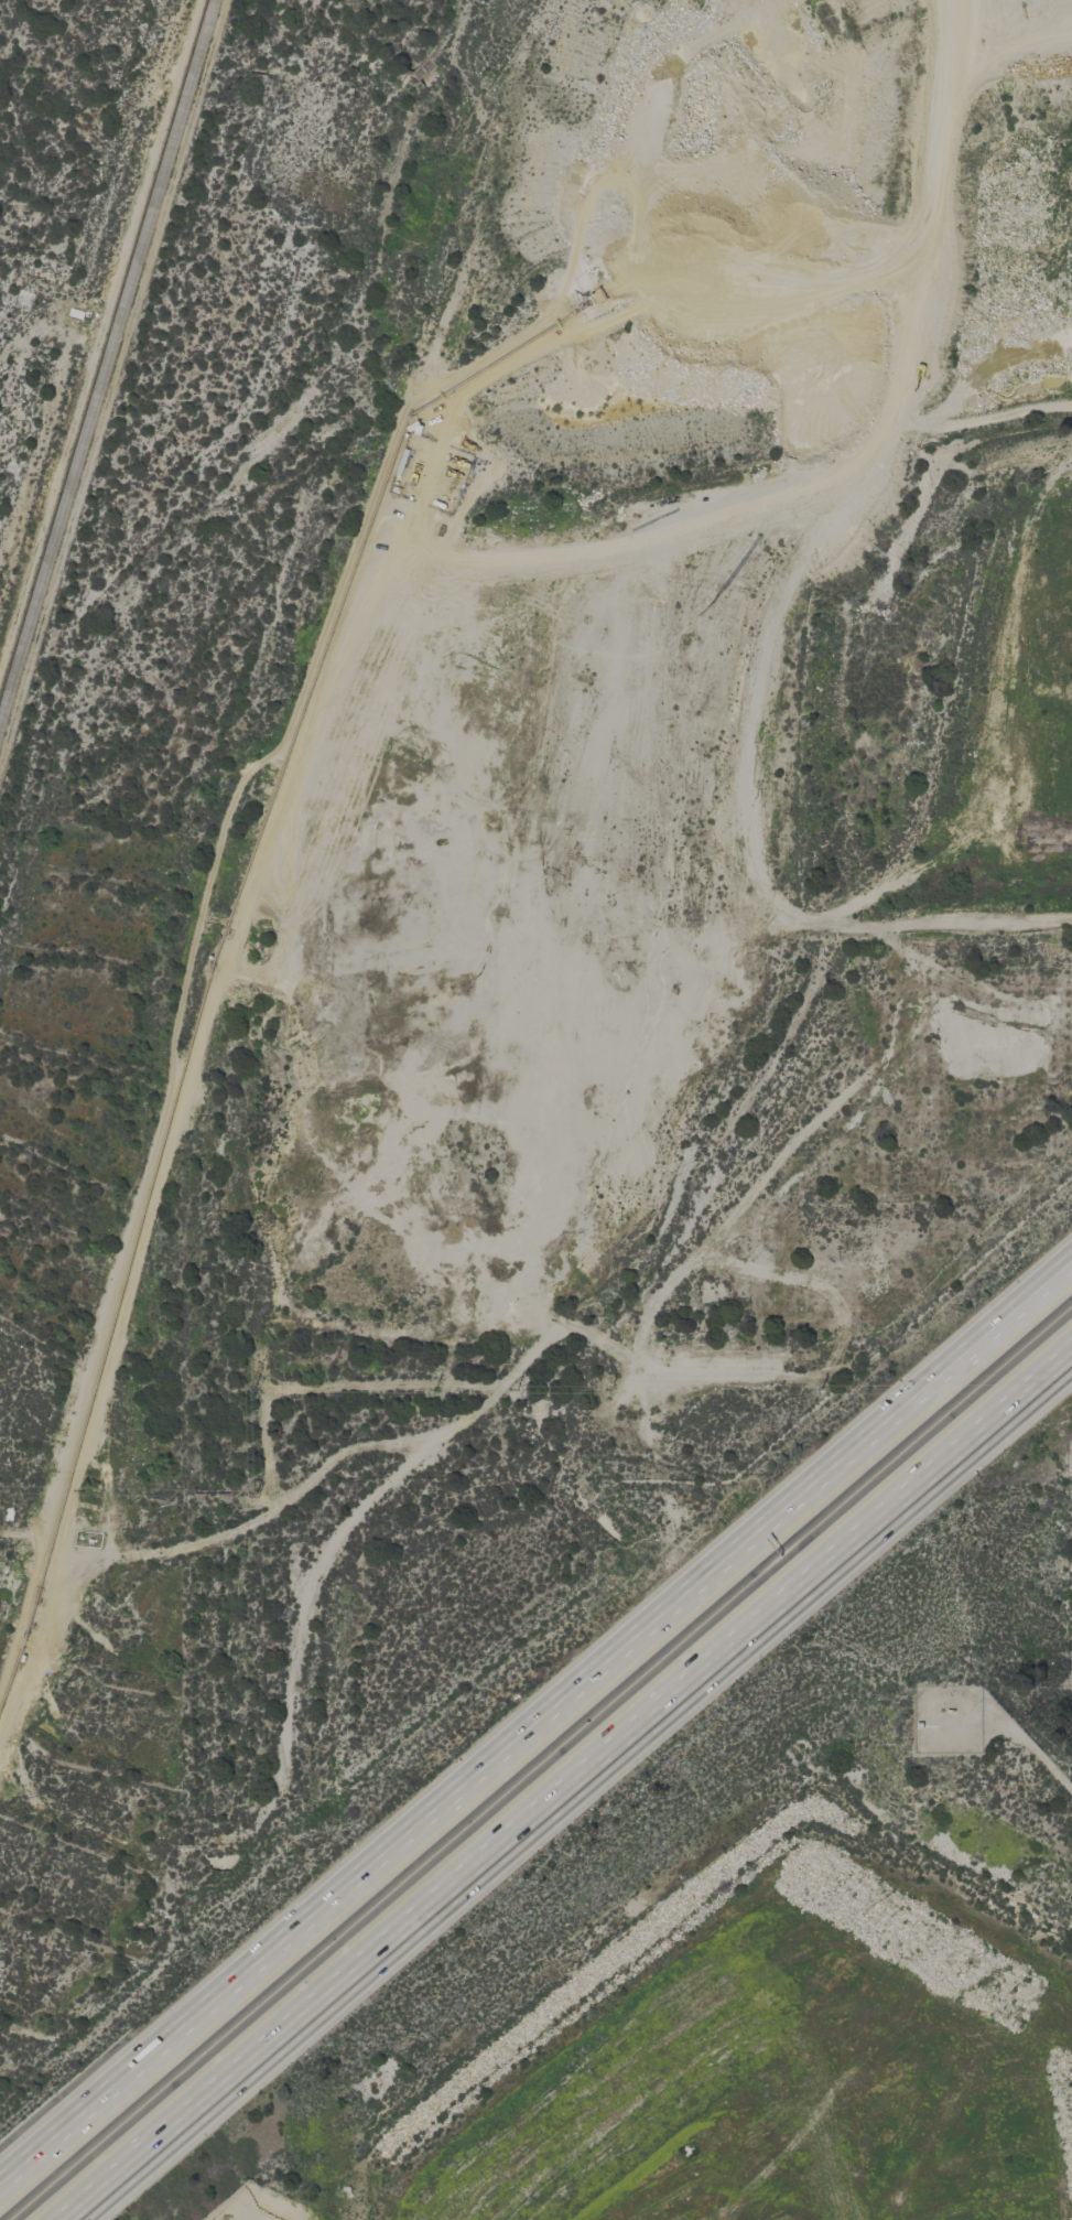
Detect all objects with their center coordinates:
quarry: (585, 928)
power tower: (823, 1391)
road: (534, 1718)
road: (575, 1790)

